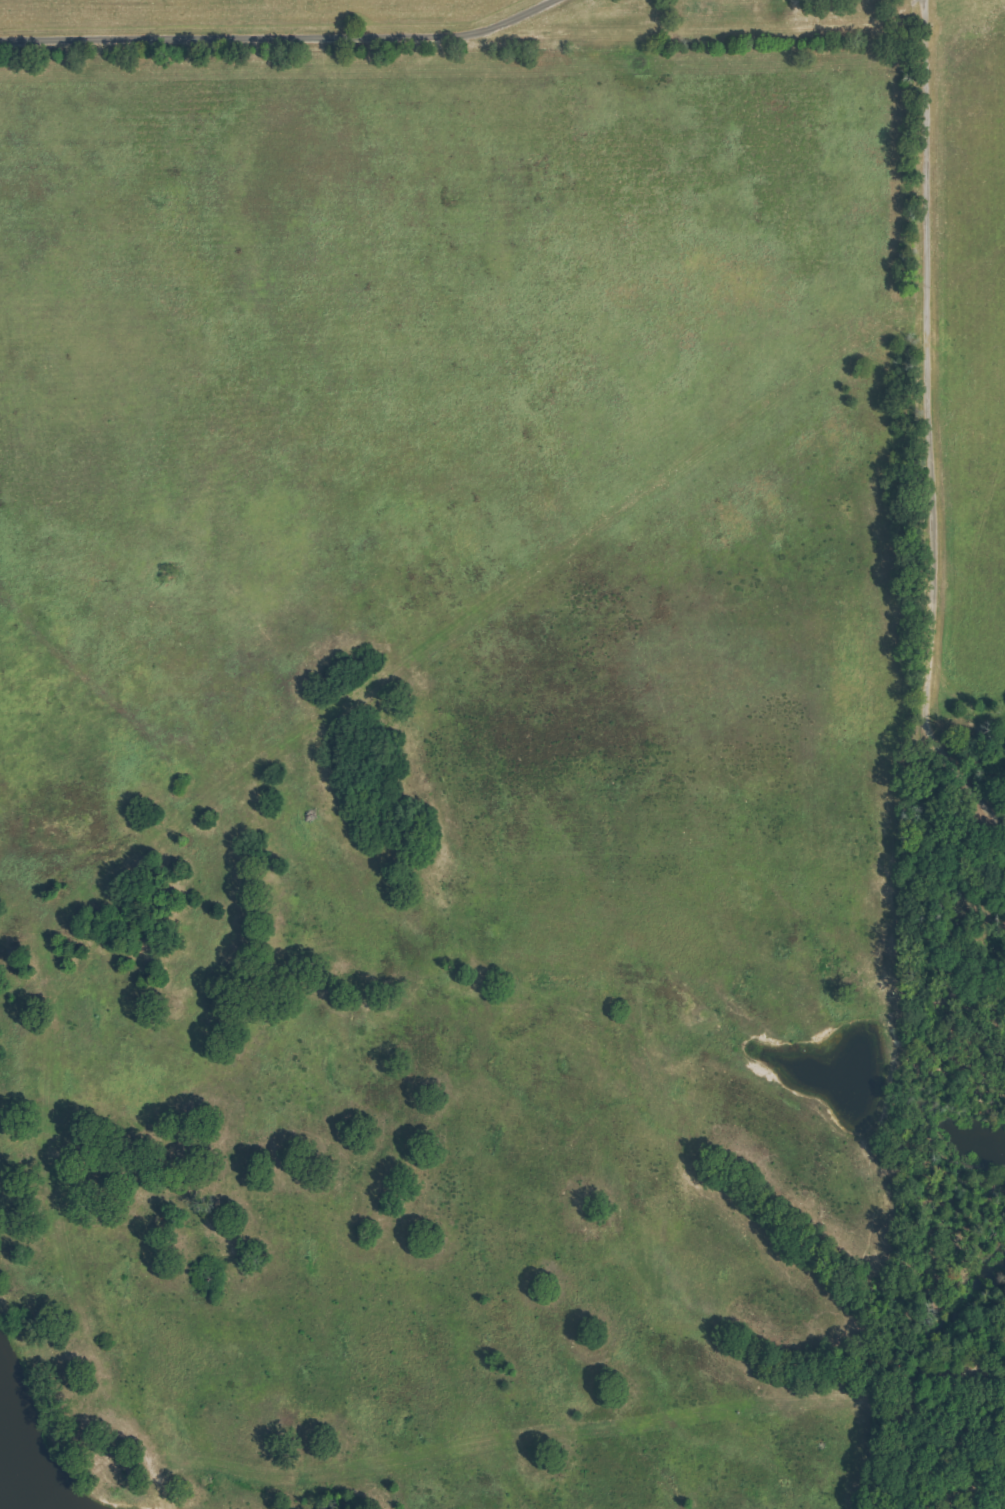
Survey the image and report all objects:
road: (280, 38)

